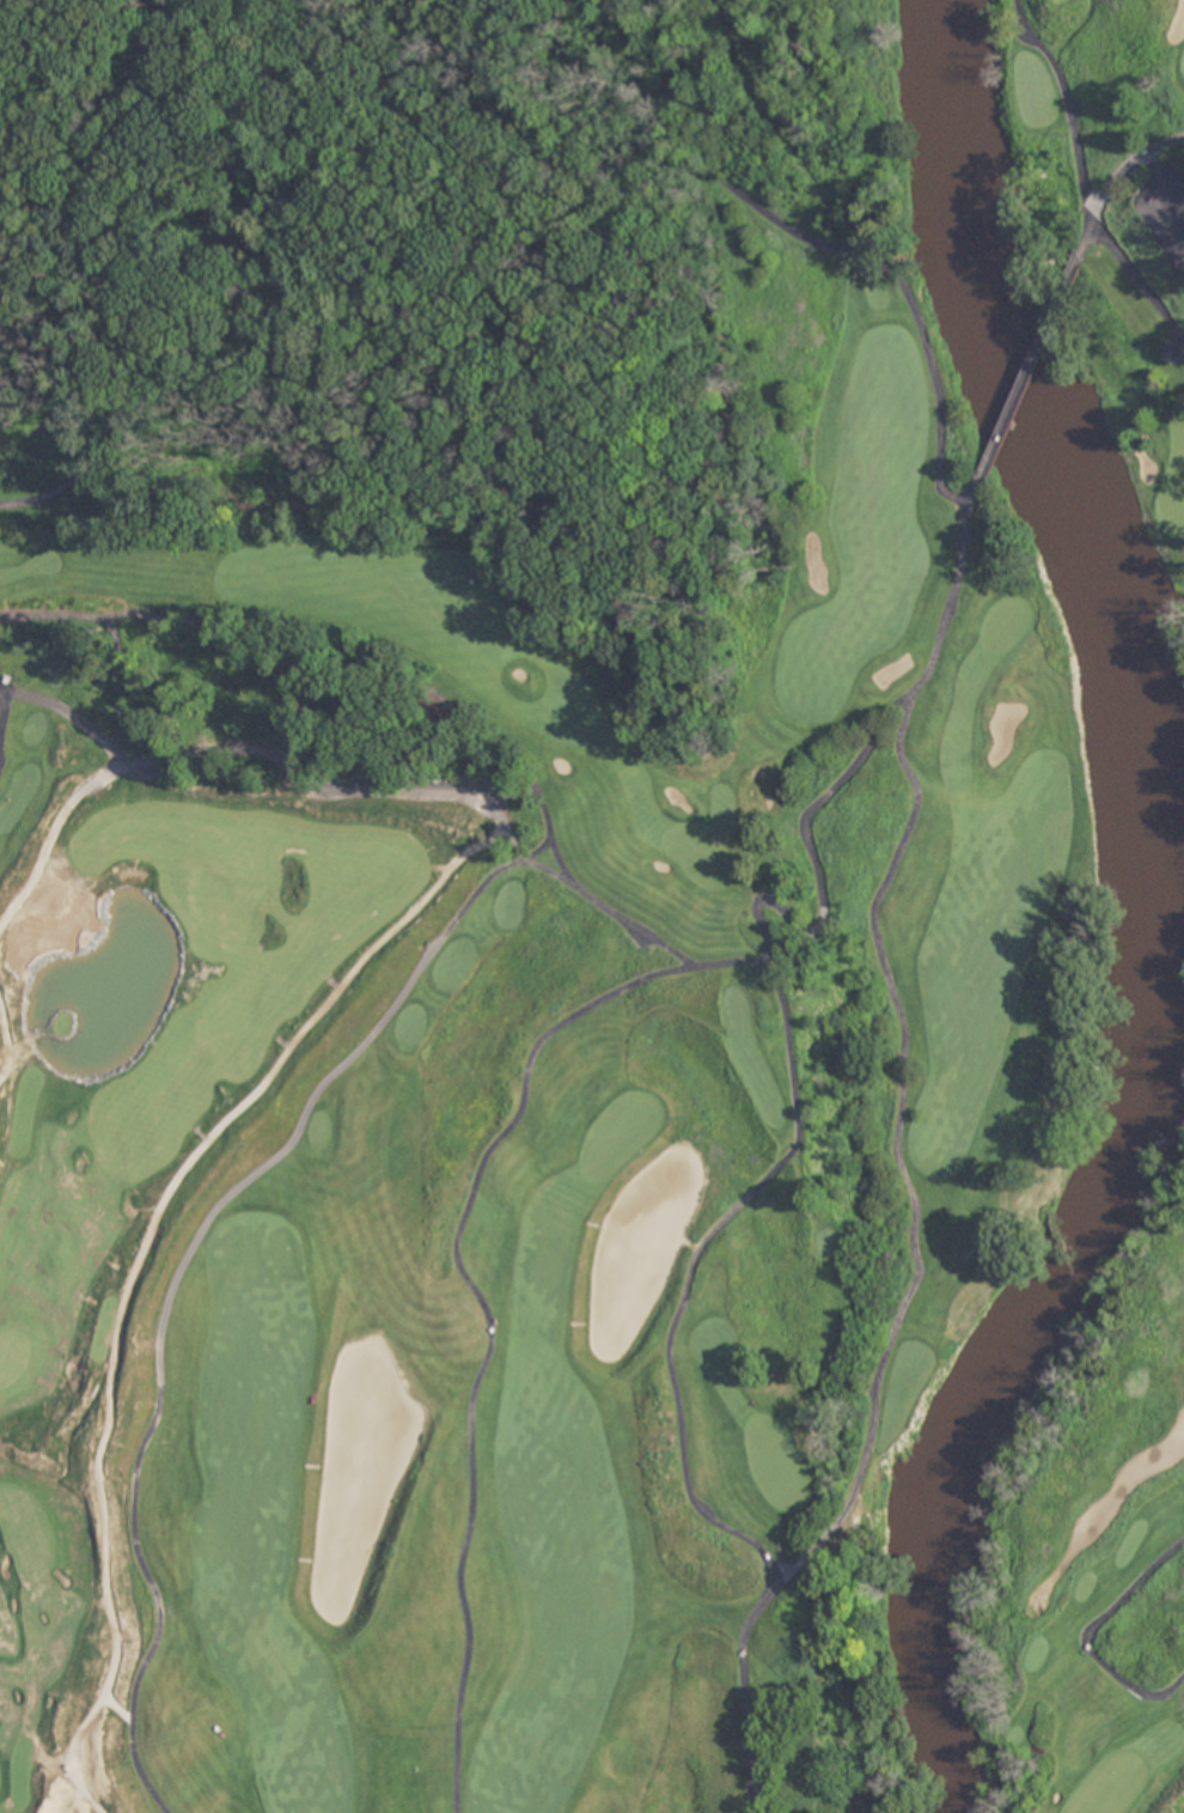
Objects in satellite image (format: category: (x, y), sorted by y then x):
park: (1182, 63)
road: (1027, 373)
park: (1174, 476)
building: (8, 677)
road: (6, 719)
park: (598, 917)
river: (1155, 919)
road: (215, 1155)
park: (1127, 1771)

